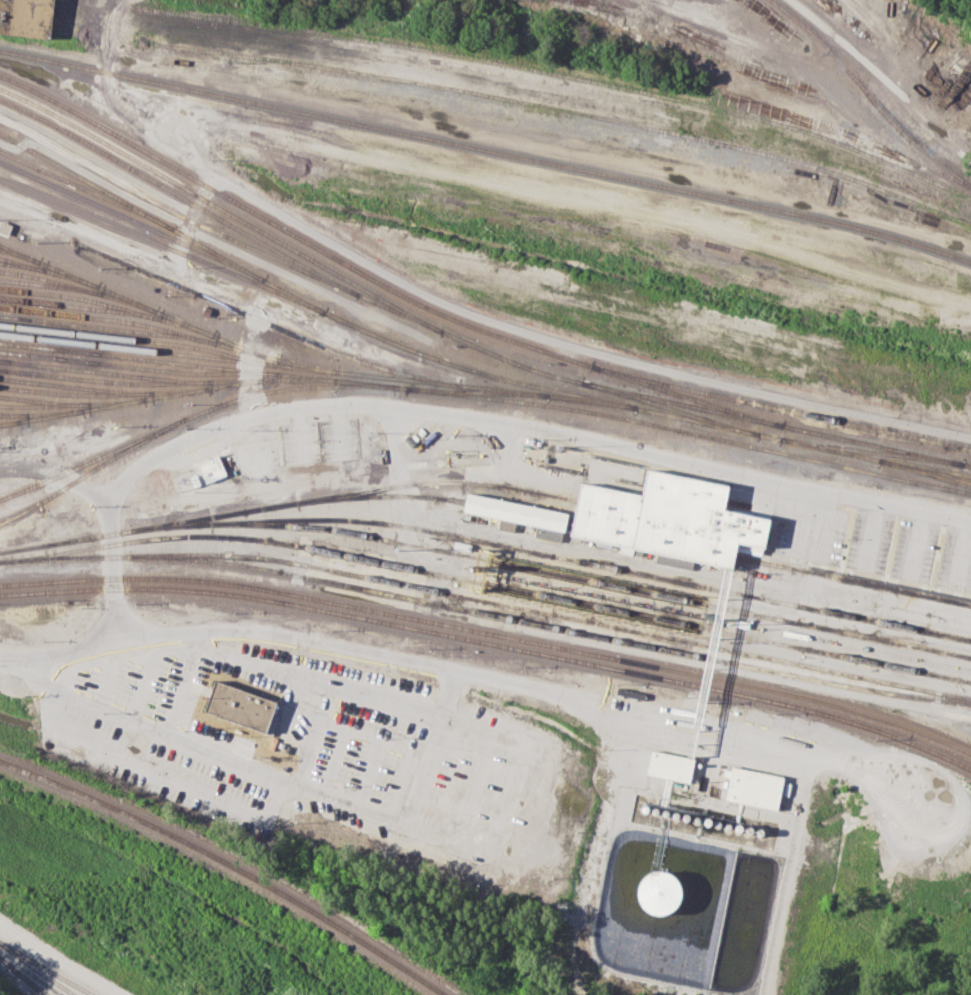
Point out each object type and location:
building: (27, 17)
road: (109, 30)
railway: (363, 62)
railway: (459, 68)
railway: (557, 73)
road: (883, 77)
railway: (868, 95)
railway: (569, 110)
road: (148, 119)
railway: (487, 149)
railway: (79, 185)
railway: (169, 190)
railway: (210, 201)
railway: (121, 215)
railway: (150, 216)
road: (190, 219)
railway: (205, 226)
railway: (290, 233)
railway: (149, 239)
railway: (5, 248)
railway: (12, 263)
railway: (40, 269)
road: (178, 271)
railway: (36, 282)
railway: (67, 285)
railway: (101, 302)
railway: (70, 306)
railway: (162, 314)
railway: (265, 321)
railway: (134, 322)
railway: (98, 326)
railway: (165, 343)
road: (576, 346)
railway: (135, 348)
railway: (502, 356)
railway: (162, 359)
railway: (132, 366)
railway: (468, 367)
railway: (99, 371)
railway: (132, 382)
railway: (70, 385)
railway: (488, 387)
railway: (477, 391)
railway: (97, 393)
railway: (682, 394)
railway: (161, 395)
railway: (43, 400)
railway: (66, 403)
railway: (681, 403)
railway: (672, 407)
railway: (781, 409)
railway: (10, 413)
railway: (39, 413)
road: (460, 415)
railway: (190, 416)
railway: (8, 422)
railway: (650, 423)
railway: (808, 444)
railway: (870, 444)
railway: (873, 451)
building: (211, 468)
railway: (924, 472)
railway: (83, 474)
road: (55, 475)
railway: (441, 482)
railway: (231, 512)
building: (514, 512)
railway: (752, 514)
building: (668, 518)
building: (505, 525)
building: (547, 534)
parking lot: (877, 545)
railway: (554, 554)
railway: (852, 579)
railway: (596, 581)
railway: (487, 584)
railway: (486, 613)
railway: (559, 615)
railway: (490, 633)
railway: (491, 643)
road: (465, 674)
building: (236, 706)
road: (427, 748)
parking lot: (331, 753)
building: (669, 765)
building: (753, 788)
road: (338, 801)
railway: (228, 864)
building: (658, 892)
road: (64, 958)
railway: (44, 968)
railway: (35, 969)
railway: (21, 976)
railway: (29, 982)

